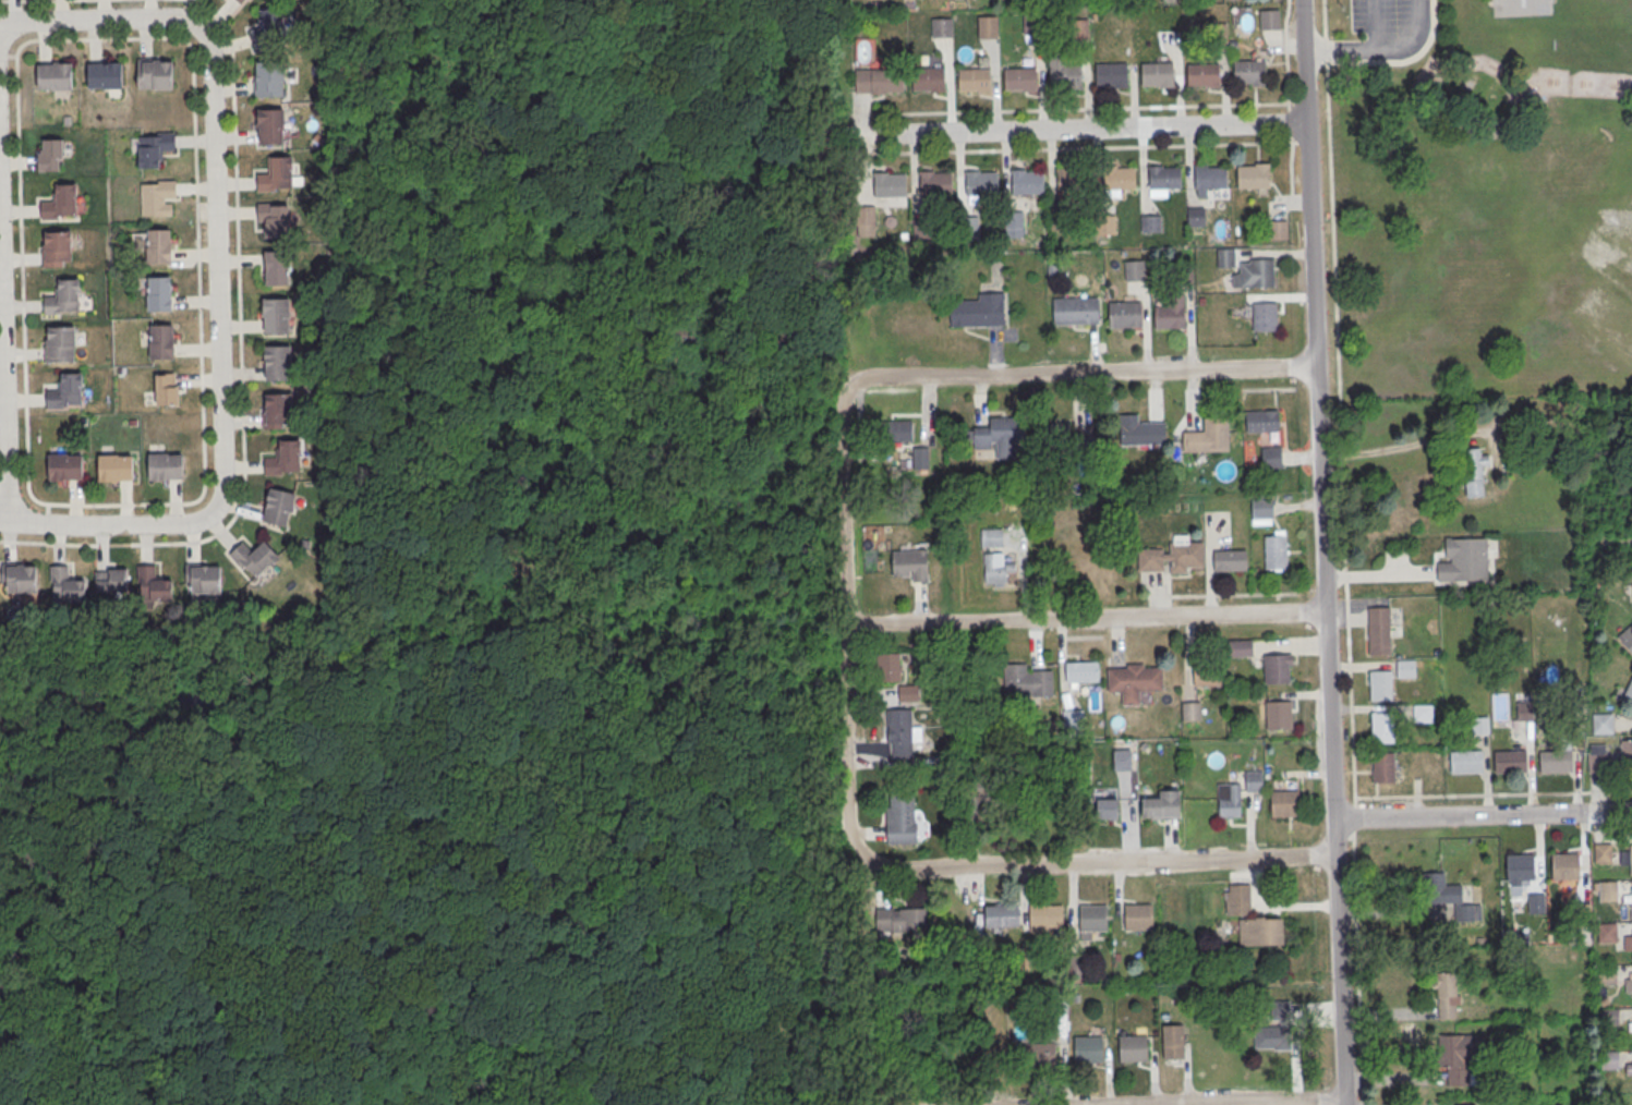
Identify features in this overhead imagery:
road: (36, 0)
building: (240, 2)
parking lot: (1379, 16)
road: (105, 17)
building: (1269, 19)
road: (1373, 25)
building: (941, 26)
building: (987, 26)
building: (269, 29)
road: (1379, 50)
road: (1285, 54)
road: (192, 61)
building: (1249, 71)
building: (155, 73)
building: (1111, 73)
building: (1157, 73)
building: (105, 74)
building: (1202, 74)
building: (55, 75)
building: (1065, 75)
building: (929, 76)
building: (1019, 77)
building: (974, 78)
building: (878, 80)
building: (270, 81)
road: (1067, 108)
road: (1289, 123)
building: (270, 127)
road: (1075, 127)
road: (1071, 147)
building: (50, 154)
building: (150, 154)
road: (1293, 170)
building: (277, 174)
building: (1253, 174)
building: (1119, 177)
building: (1208, 178)
building: (1068, 179)
building: (1162, 179)
building: (934, 181)
building: (1027, 181)
building: (981, 183)
building: (890, 184)
building: (157, 199)
building: (59, 202)
road: (1293, 202)
building: (1195, 216)
building: (866, 220)
building: (275, 221)
building: (1150, 222)
building: (1104, 223)
building: (1278, 229)
building: (57, 247)
building: (158, 248)
building: (1225, 257)
building: (277, 269)
building: (1135, 270)
road: (218, 272)
building: (1254, 274)
building: (62, 296)
building: (159, 296)
building: (978, 312)
building: (1075, 312)
building: (1265, 315)
building: (1125, 316)
building: (276, 317)
building: (1169, 318)
building: (59, 344)
building: (161, 344)
road: (3, 361)
building: (278, 366)
road: (1259, 368)
road: (241, 373)
road: (1024, 375)
building: (64, 391)
building: (167, 391)
road: (1339, 403)
road: (1316, 410)
building: (278, 412)
building: (1261, 420)
building: (1140, 432)
building: (891, 434)
building: (1000, 437)
building: (1208, 438)
road: (1417, 442)
building: (920, 457)
building: (285, 460)
building: (166, 469)
building: (64, 470)
building: (116, 471)
building: (1475, 472)
building: (278, 509)
building: (1261, 510)
road: (107, 523)
building: (991, 537)
building: (1276, 554)
building: (1186, 557)
building: (254, 558)
building: (1230, 562)
building: (1465, 562)
building: (910, 566)
building: (994, 570)
building: (22, 582)
building: (205, 582)
building: (111, 584)
building: (67, 587)
building: (154, 587)
road: (1085, 619)
road: (845, 623)
building: (1379, 632)
building: (1627, 637)
building: (1240, 647)
building: (890, 666)
building: (1276, 671)
building: (1083, 673)
building: (1026, 682)
building: (1134, 683)
building: (1380, 687)
building: (907, 692)
building: (1628, 693)
building: (1190, 711)
building: (1524, 711)
building: (1279, 716)
building: (1601, 722)
building: (1383, 730)
building: (900, 732)
building: (1625, 749)
building: (1597, 757)
building: (1511, 763)
building: (1466, 764)
building: (1556, 764)
building: (1383, 769)
building: (1254, 780)
building: (980, 787)
road: (1494, 794)
building: (1230, 802)
building: (1284, 805)
building: (1107, 807)
building: (1162, 807)
road: (1482, 815)
building: (899, 816)
building: (1601, 851)
road: (1097, 861)
building: (1631, 862)
building: (1565, 865)
building: (1521, 866)
road: (1334, 867)
building: (1631, 897)
building: (1447, 900)
road: (1393, 914)
building: (1001, 915)
building: (1045, 915)
building: (1138, 916)
building: (1093, 918)
building: (900, 919)
building: (1252, 919)
building: (1607, 933)
building: (1628, 939)
road: (1356, 955)
building: (1607, 975)
building: (1628, 982)
building: (1447, 995)
road: (1340, 1010)
building: (1608, 1016)
building: (1276, 1029)
building: (1631, 1029)
building: (1174, 1042)
building: (1133, 1047)
building: (1088, 1049)
building: (1038, 1054)
building: (1459, 1055)
building: (1609, 1060)
building: (1629, 1068)
road: (1267, 1102)

